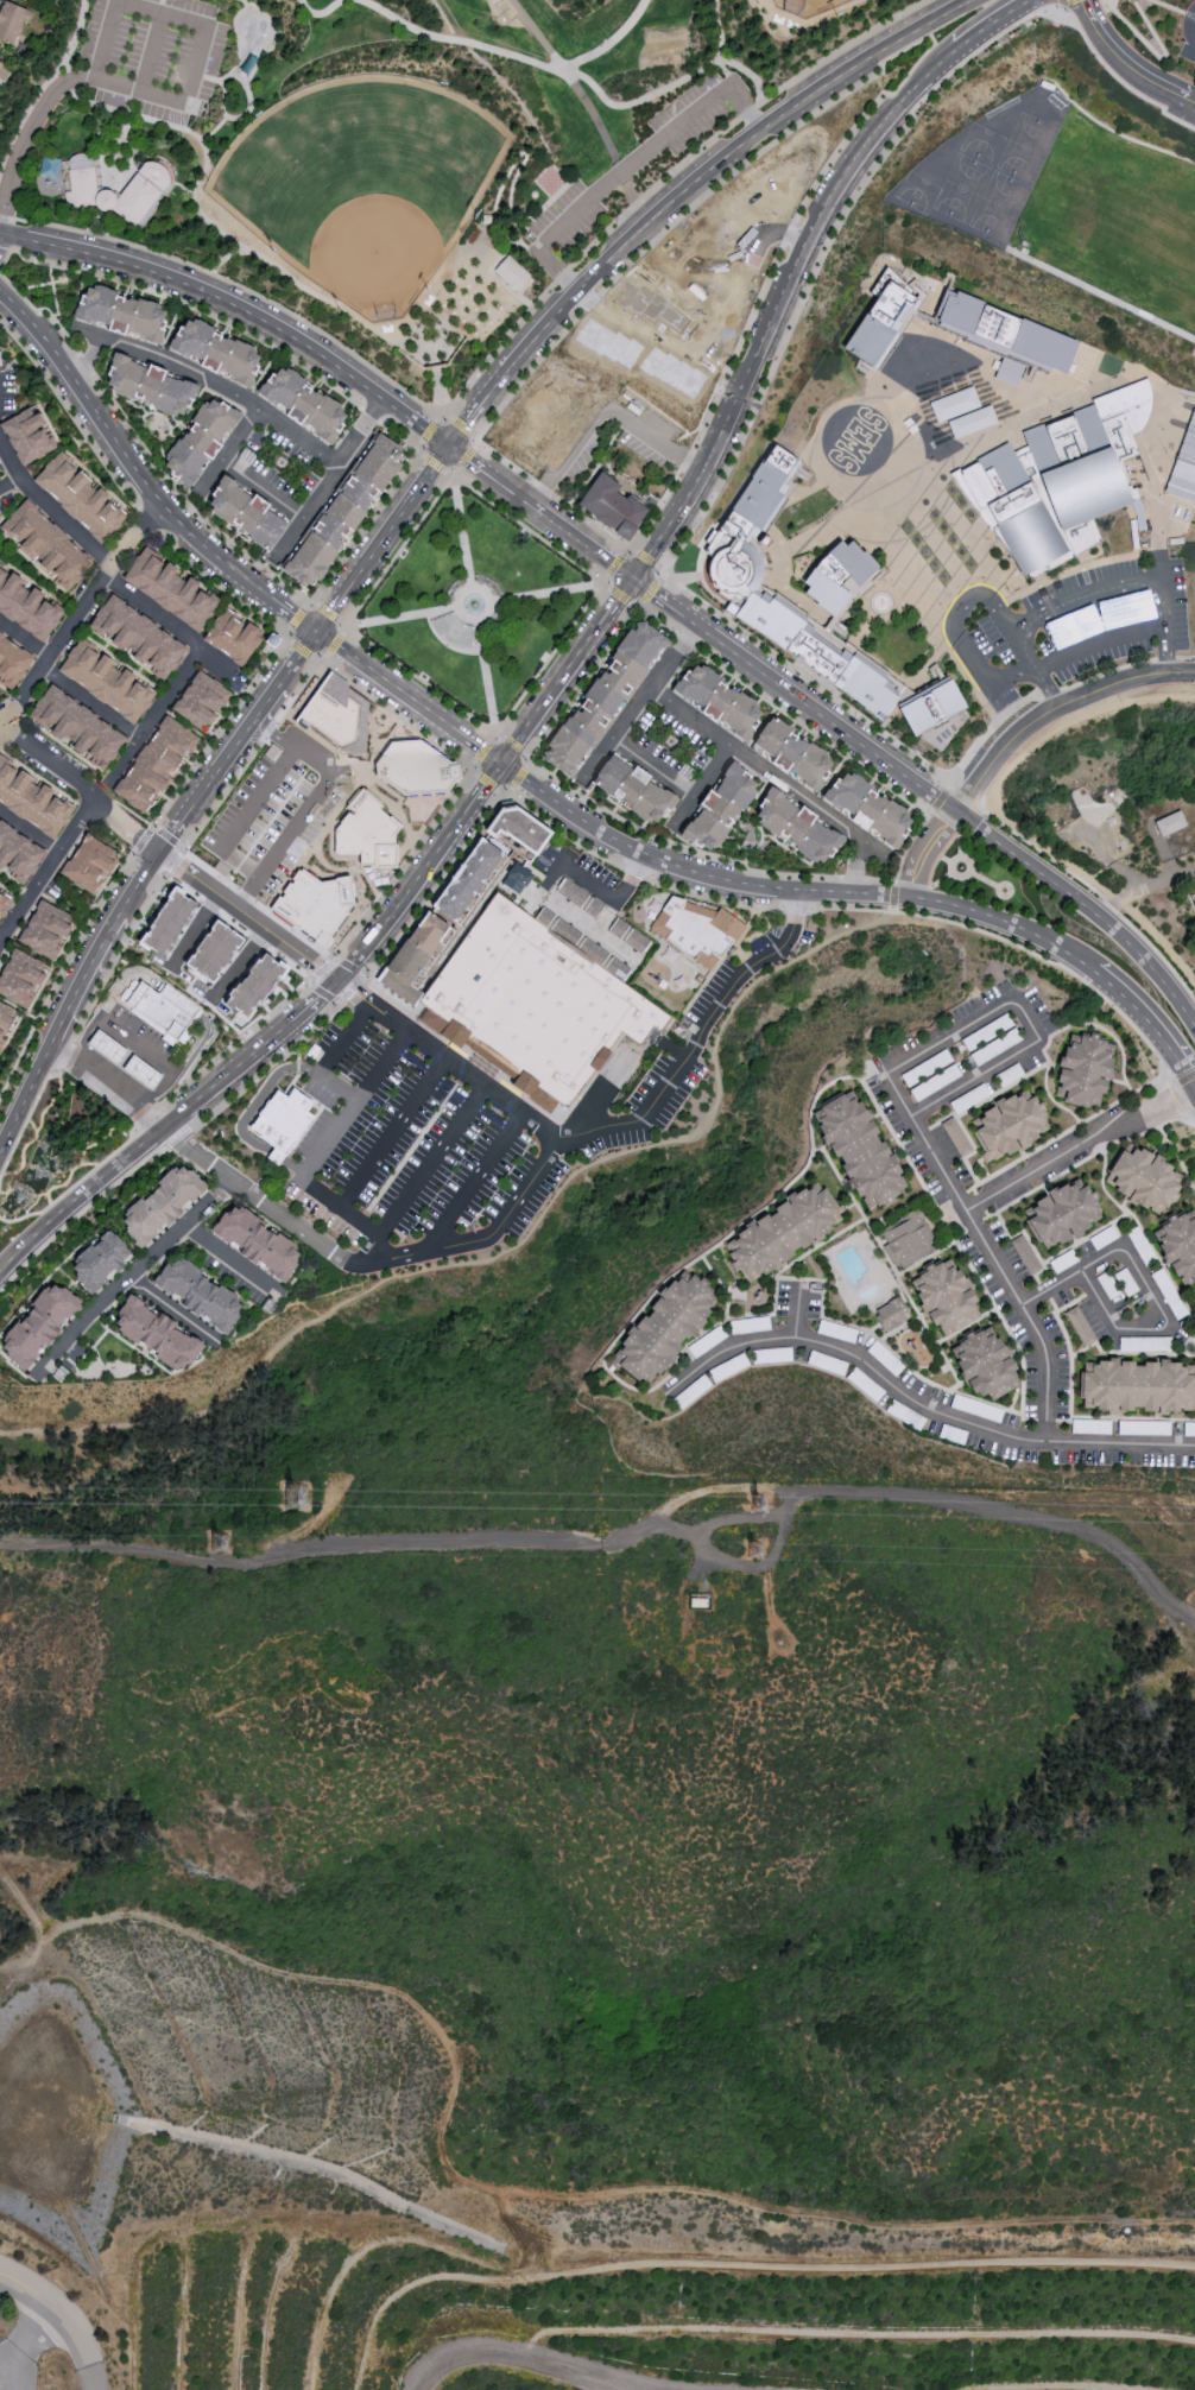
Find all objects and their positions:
road: (1066, 2)
road: (1061, 4)
road: (1168, 6)
park: (805, 7)
road: (1188, 14)
road: (1194, 19)
building: (11, 20)
road: (808, 20)
road: (1000, 24)
road: (719, 31)
road: (67, 32)
fountain: (253, 33)
road: (428, 36)
road: (540, 37)
road: (192, 42)
road: (612, 43)
park: (662, 45)
road: (841, 50)
road: (141, 53)
road: (1155, 53)
parking lot: (147, 55)
building: (0, 64)
road: (1127, 64)
road: (59, 74)
road: (1118, 81)
road: (669, 86)
road: (853, 89)
road: (751, 106)
road: (24, 113)
parking lot: (690, 116)
road: (599, 121)
park: (393, 143)
park: (981, 144)
park: (1024, 147)
road: (20, 153)
road: (533, 158)
building: (48, 166)
road: (627, 167)
road: (717, 171)
park: (549, 181)
building: (80, 182)
park: (362, 186)
park: (961, 188)
park: (916, 192)
building: (144, 194)
building: (105, 201)
road: (633, 201)
park: (997, 206)
parking lot: (570, 219)
road: (776, 233)
road: (233, 244)
road: (584, 253)
road: (823, 255)
building: (511, 272)
road: (38, 285)
road: (235, 286)
road: (932, 290)
road: (1094, 291)
road: (52, 293)
road: (792, 296)
road: (240, 305)
road: (603, 309)
building: (120, 314)
road: (217, 322)
building: (881, 323)
building: (1006, 330)
road: (1193, 350)
building: (216, 352)
building: (1007, 371)
road: (1088, 379)
road: (209, 380)
building: (148, 385)
road: (1003, 390)
road: (1183, 391)
road: (1064, 400)
road: (1182, 400)
building: (304, 404)
building: (1123, 410)
road: (609, 411)
building: (961, 412)
road: (473, 417)
road: (461, 425)
road: (78, 430)
road: (431, 434)
building: (26, 436)
traffic signals: (454, 440)
building: (198, 441)
road: (141, 445)
road: (225, 449)
road: (443, 454)
road: (126, 456)
road: (463, 459)
road: (809, 460)
road: (434, 463)
building: (1184, 463)
building: (1075, 466)
road: (845, 473)
road: (500, 474)
road: (331, 476)
road: (448, 480)
building: (976, 480)
road: (733, 494)
building: (758, 494)
building: (80, 497)
road: (930, 499)
building: (989, 499)
building: (605, 506)
building: (344, 511)
building: (246, 513)
road: (916, 519)
road: (393, 525)
road: (363, 526)
road: (919, 527)
road: (461, 531)
road: (828, 531)
road: (892, 536)
building: (1029, 538)
road: (925, 542)
road: (1153, 542)
road: (594, 544)
building: (44, 545)
road: (951, 548)
road: (935, 551)
road: (646, 559)
road: (106, 564)
road: (947, 564)
road: (612, 565)
road: (649, 570)
building: (728, 571)
road: (697, 575)
building: (836, 575)
road: (972, 575)
traffic signals: (641, 581)
road: (220, 588)
building: (170, 589)
road: (652, 589)
road: (544, 592)
road: (618, 595)
road: (714, 596)
road: (664, 597)
road: (1087, 597)
fountain: (473, 603)
building: (26, 606)
road: (334, 606)
park: (470, 606)
road: (621, 608)
road: (328, 612)
road: (292, 617)
road: (296, 618)
road: (398, 618)
road: (77, 620)
road: (481, 620)
parking lot: (1079, 628)
road: (961, 630)
traffic signals: (317, 632)
road: (454, 632)
building: (233, 637)
building: (135, 638)
road: (1096, 640)
road: (309, 643)
road: (329, 644)
road: (301, 649)
road: (859, 650)
building: (816, 655)
building: (12, 663)
road: (487, 678)
road: (808, 678)
building: (106, 679)
road: (382, 679)
road: (583, 682)
road: (277, 688)
road: (562, 690)
road: (1051, 694)
building: (603, 697)
road: (639, 697)
building: (201, 700)
building: (716, 700)
road: (91, 703)
building: (930, 707)
building: (335, 713)
road: (782, 713)
road: (153, 715)
road: (1069, 723)
building: (76, 727)
road: (260, 728)
road: (215, 733)
road: (1014, 734)
road: (279, 740)
road: (476, 747)
road: (513, 747)
road: (482, 751)
building: (792, 753)
road: (512, 757)
road: (53, 764)
road: (222, 764)
building: (153, 765)
building: (413, 767)
traffic signals: (505, 769)
road: (519, 777)
road: (774, 778)
road: (487, 782)
road: (677, 783)
road: (574, 790)
building: (632, 790)
road: (487, 792)
road: (937, 798)
road: (962, 798)
building: (31, 799)
building: (866, 807)
building: (717, 808)
road: (682, 810)
road: (951, 811)
road: (239, 818)
road: (943, 821)
building: (1111, 821)
building: (1168, 823)
road: (298, 824)
road: (128, 826)
building: (796, 827)
road: (175, 828)
building: (517, 829)
road: (31, 832)
building: (366, 832)
road: (140, 840)
road: (959, 843)
road: (906, 845)
road: (178, 847)
traffic signals: (157, 852)
road: (184, 852)
road: (701, 853)
building: (17, 854)
road: (937, 855)
road: (946, 859)
building: (88, 864)
road: (1113, 864)
road: (49, 870)
road: (965, 873)
road: (628, 875)
building: (516, 878)
building: (466, 880)
road: (584, 880)
road: (940, 880)
road: (137, 883)
road: (1094, 883)
road: (910, 886)
road: (436, 889)
road: (997, 890)
road: (1144, 890)
road: (792, 892)
road: (687, 893)
road: (1099, 893)
road: (891, 897)
road: (404, 898)
building: (578, 898)
building: (4, 902)
building: (314, 904)
road: (244, 917)
building: (166, 922)
building: (45, 929)
road: (190, 930)
building: (694, 930)
building: (627, 935)
building: (213, 950)
building: (415, 956)
building: (602, 957)
road: (1048, 961)
road: (236, 965)
road: (346, 967)
road: (321, 968)
road: (62, 972)
building: (20, 978)
road: (81, 978)
traffic signals: (336, 978)
building: (252, 984)
road: (350, 986)
road: (321, 993)
road: (169, 998)
road: (312, 999)
building: (535, 1005)
building: (160, 1010)
road: (1149, 1019)
building: (6, 1020)
road: (80, 1024)
road: (1028, 1025)
road: (342, 1047)
road: (64, 1051)
building: (124, 1060)
road: (448, 1060)
gas station: (129, 1061)
building: (1082, 1069)
road: (228, 1073)
road: (1177, 1081)
road: (339, 1088)
road: (172, 1092)
road: (1176, 1095)
road: (25, 1096)
road: (145, 1100)
road: (1190, 1114)
road: (153, 1115)
building: (283, 1119)
road: (1189, 1123)
road: (617, 1126)
building: (1009, 1126)
road: (393, 1130)
parking lot: (466, 1134)
building: (955, 1137)
road: (169, 1145)
road: (321, 1145)
building: (858, 1150)
road: (1082, 1152)
road: (424, 1174)
building: (1142, 1177)
road: (67, 1178)
road: (472, 1183)
road: (81, 1200)
road: (260, 1200)
road: (32, 1202)
building: (160, 1206)
building: (1061, 1214)
road: (19, 1216)
building: (782, 1232)
building: (906, 1239)
building: (254, 1243)
building: (1178, 1245)
road: (506, 1251)
road: (229, 1254)
road: (995, 1256)
building: (97, 1262)
road: (144, 1272)
road: (1149, 1294)
building: (198, 1295)
building: (944, 1297)
road: (177, 1314)
road: (798, 1314)
building: (890, 1314)
building: (39, 1324)
building: (663, 1328)
building: (156, 1335)
building: (984, 1364)
building: (1137, 1386)
road: (917, 1406)
power tower: (315, 1500)
power tower: (776, 1507)
road: (614, 1543)
power tower: (235, 1545)
power tower: (767, 1555)
landfill: (460, 2217)
road: (69, 2313)
road: (23, 2338)
road: (537, 2358)

